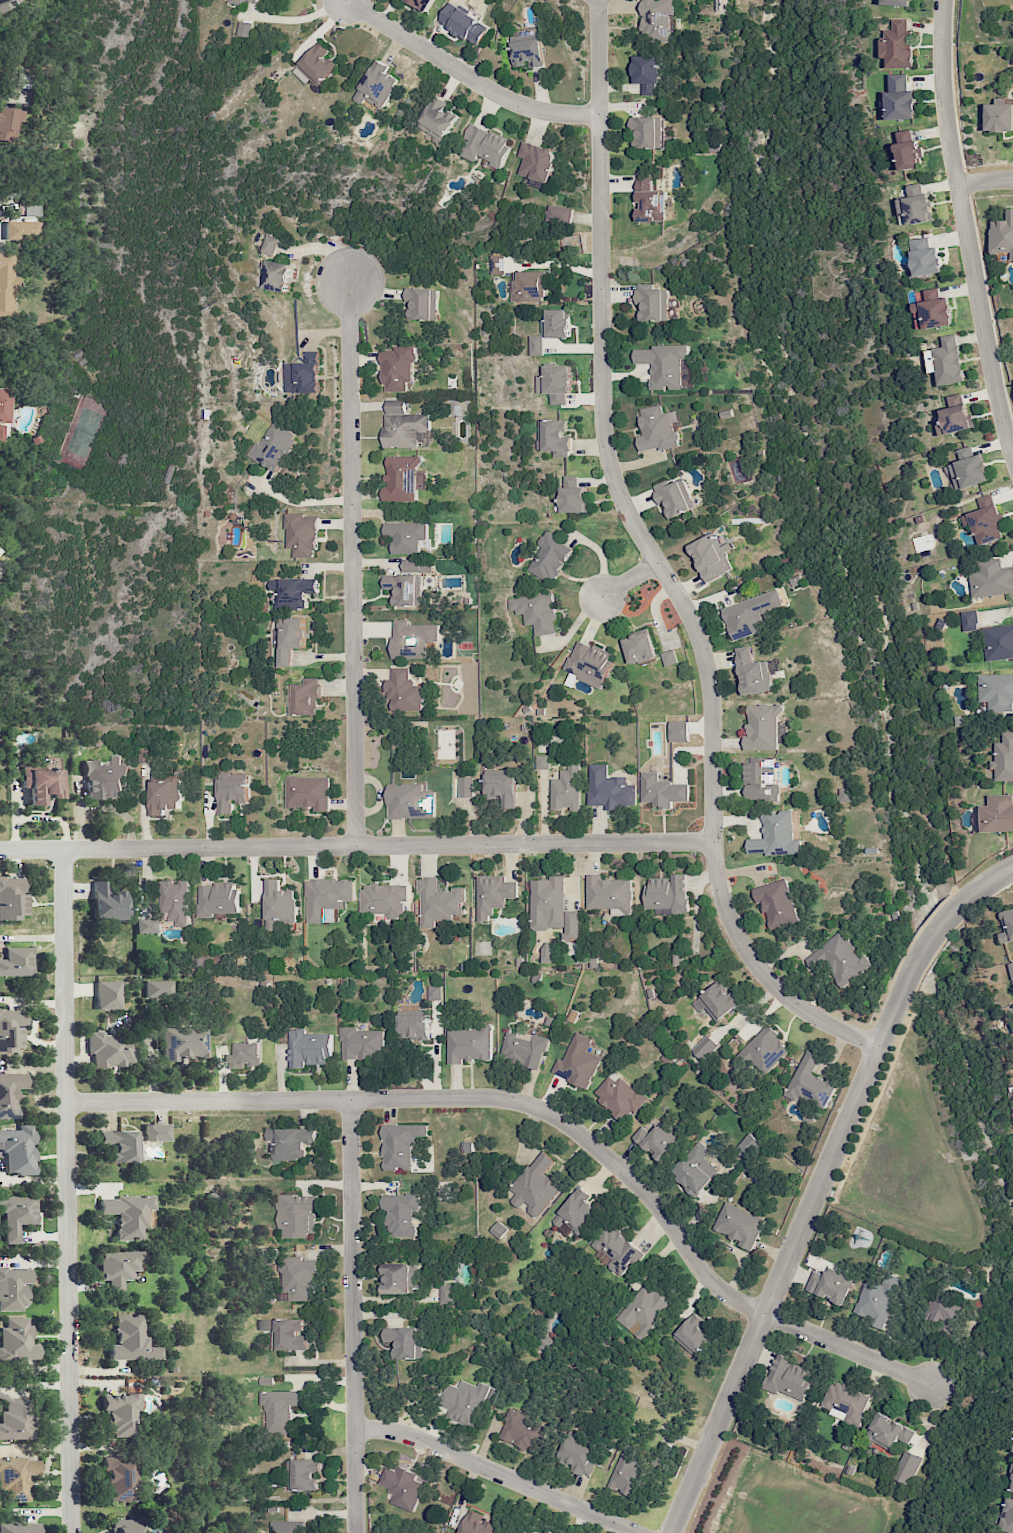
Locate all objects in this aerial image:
building: (236, 1)
building: (254, 1)
building: (898, 2)
building: (8, 4)
building: (422, 4)
building: (656, 19)
building: (464, 24)
building: (244, 28)
building: (898, 45)
building: (526, 50)
building: (316, 65)
building: (646, 72)
road: (465, 75)
building: (377, 86)
building: (900, 97)
building: (1000, 117)
building: (437, 118)
building: (10, 123)
building: (647, 131)
building: (484, 145)
building: (907, 150)
building: (537, 161)
road: (984, 179)
building: (650, 200)
building: (915, 203)
building: (559, 214)
road: (964, 230)
building: (21, 231)
building: (1003, 234)
building: (269, 244)
building: (926, 257)
building: (497, 264)
building: (276, 275)
building: (7, 284)
building: (529, 286)
building: (652, 302)
building: (421, 303)
building: (933, 310)
building: (550, 329)
building: (946, 361)
building: (664, 364)
building: (397, 368)
building: (302, 374)
building: (555, 383)
building: (3, 405)
building: (955, 415)
building: (404, 427)
building: (657, 428)
building: (0, 431)
building: (553, 437)
building: (273, 446)
building: (968, 468)
building: (168, 474)
building: (402, 478)
building: (572, 495)
building: (674, 496)
building: (985, 519)
building: (301, 535)
building: (406, 536)
building: (0, 552)
building: (711, 556)
building: (549, 557)
road: (351, 561)
road: (656, 561)
building: (991, 579)
road: (628, 580)
building: (407, 585)
building: (292, 591)
building: (535, 611)
building: (750, 614)
building: (969, 620)
building: (288, 638)
building: (412, 638)
building: (999, 642)
building: (639, 647)
building: (669, 657)
building: (588, 663)
building: (752, 672)
building: (404, 690)
building: (997, 691)
building: (303, 697)
building: (762, 727)
building: (678, 731)
building: (1004, 758)
building: (541, 762)
building: (493, 768)
building: (106, 778)
building: (760, 779)
building: (42, 784)
building: (466, 786)
building: (501, 788)
building: (566, 789)
building: (609, 789)
building: (661, 790)
building: (165, 791)
building: (307, 792)
building: (231, 793)
building: (846, 794)
building: (410, 801)
building: (996, 814)
building: (775, 835)
road: (356, 844)
building: (666, 893)
building: (609, 894)
building: (493, 895)
building: (12, 898)
building: (327, 898)
building: (217, 899)
building: (384, 900)
building: (174, 901)
building: (438, 902)
building: (107, 903)
building: (547, 903)
building: (776, 903)
building: (279, 905)
building: (571, 925)
building: (1007, 925)
building: (146, 926)
building: (548, 952)
building: (840, 959)
building: (16, 962)
building: (1011, 966)
building: (159, 989)
building: (434, 992)
building: (108, 995)
building: (719, 1000)
building: (412, 1026)
building: (11, 1030)
building: (183, 1043)
building: (362, 1043)
building: (469, 1044)
building: (705, 1047)
building: (309, 1048)
building: (524, 1048)
building: (110, 1050)
building: (763, 1051)
building: (245, 1055)
building: (578, 1062)
building: (811, 1083)
building: (10, 1093)
building: (618, 1096)
road: (545, 1111)
building: (156, 1132)
building: (657, 1141)
building: (291, 1142)
building: (400, 1144)
building: (120, 1145)
building: (748, 1146)
building: (469, 1147)
building: (18, 1150)
building: (695, 1169)
road: (818, 1183)
building: (535, 1185)
road: (68, 1191)
building: (576, 1211)
building: (400, 1213)
building: (128, 1214)
building: (17, 1215)
building: (297, 1215)
building: (739, 1225)
building: (498, 1229)
building: (616, 1249)
building: (119, 1267)
building: (302, 1278)
building: (400, 1278)
building: (831, 1285)
building: (13, 1288)
building: (445, 1293)
building: (879, 1300)
building: (642, 1310)
building: (945, 1312)
road: (352, 1315)
building: (286, 1333)
building: (693, 1334)
building: (132, 1340)
building: (17, 1341)
building: (405, 1341)
building: (789, 1378)
building: (464, 1401)
building: (845, 1402)
building: (282, 1409)
building: (122, 1413)
building: (15, 1419)
building: (521, 1430)
building: (888, 1431)
building: (577, 1456)
building: (907, 1467)
building: (627, 1471)
road: (496, 1472)
building: (303, 1473)
building: (16, 1478)
building: (120, 1478)
building: (1011, 1485)
building: (402, 1487)
building: (1006, 1517)
building: (477, 1524)
building: (125, 1526)
building: (286, 1526)
building: (19, 1528)
building: (524, 1530)
building: (547, 1531)

